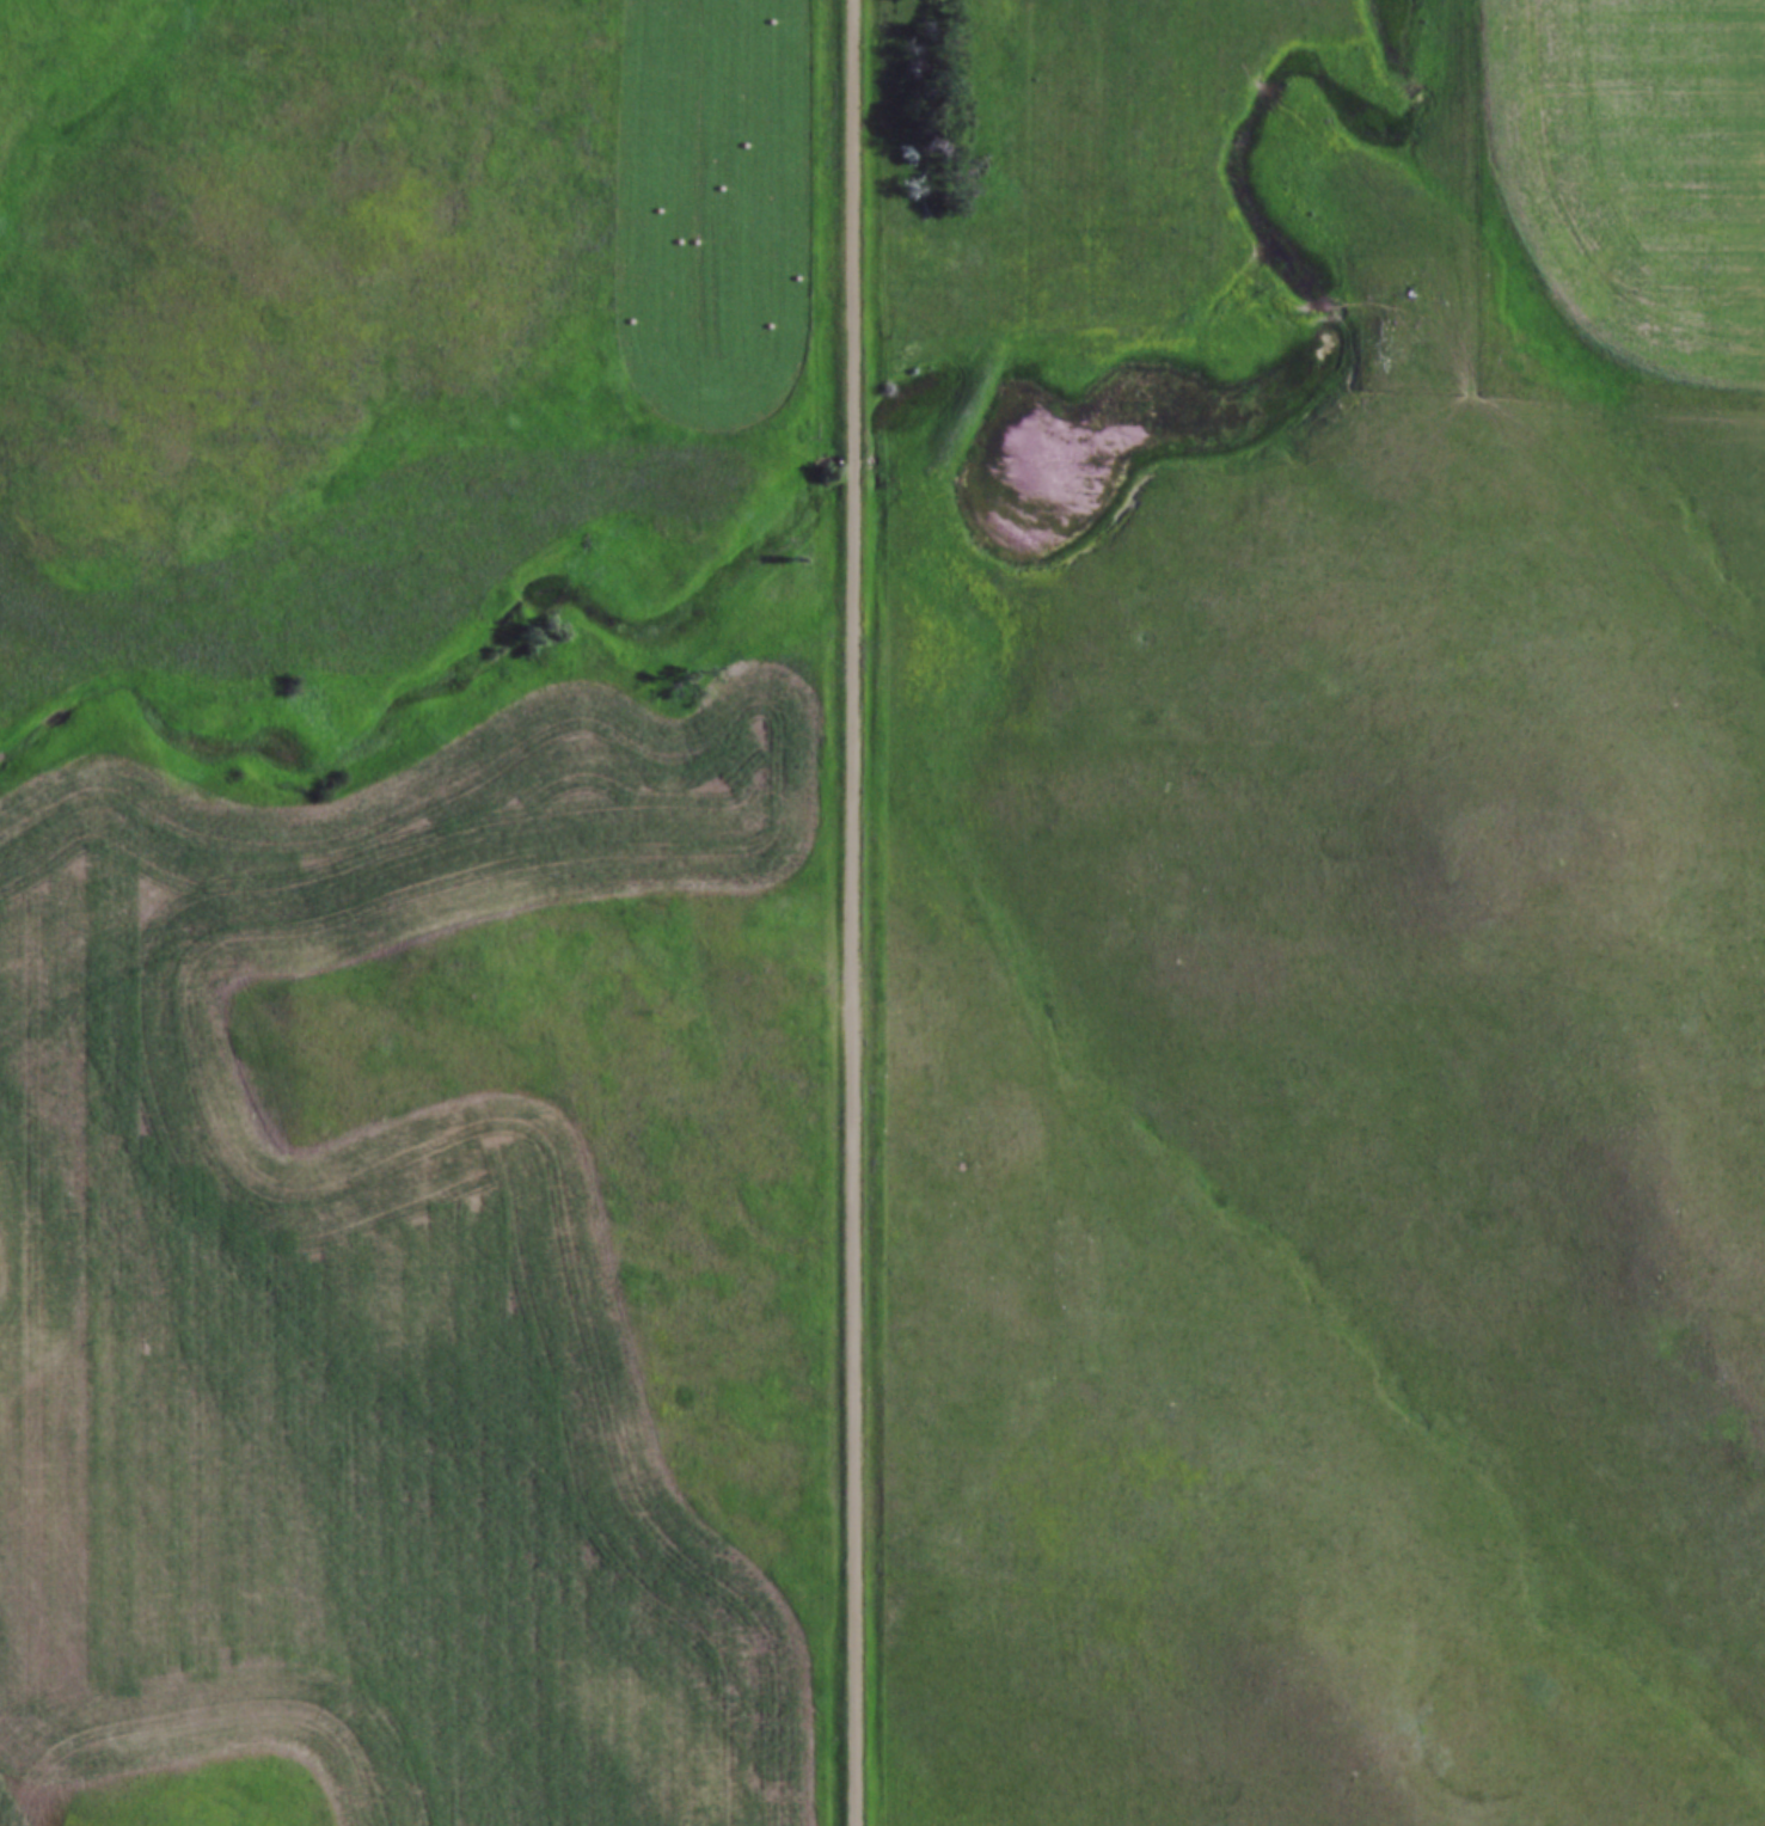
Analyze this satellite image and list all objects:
road: (846, 913)
road: (51, 1011)

